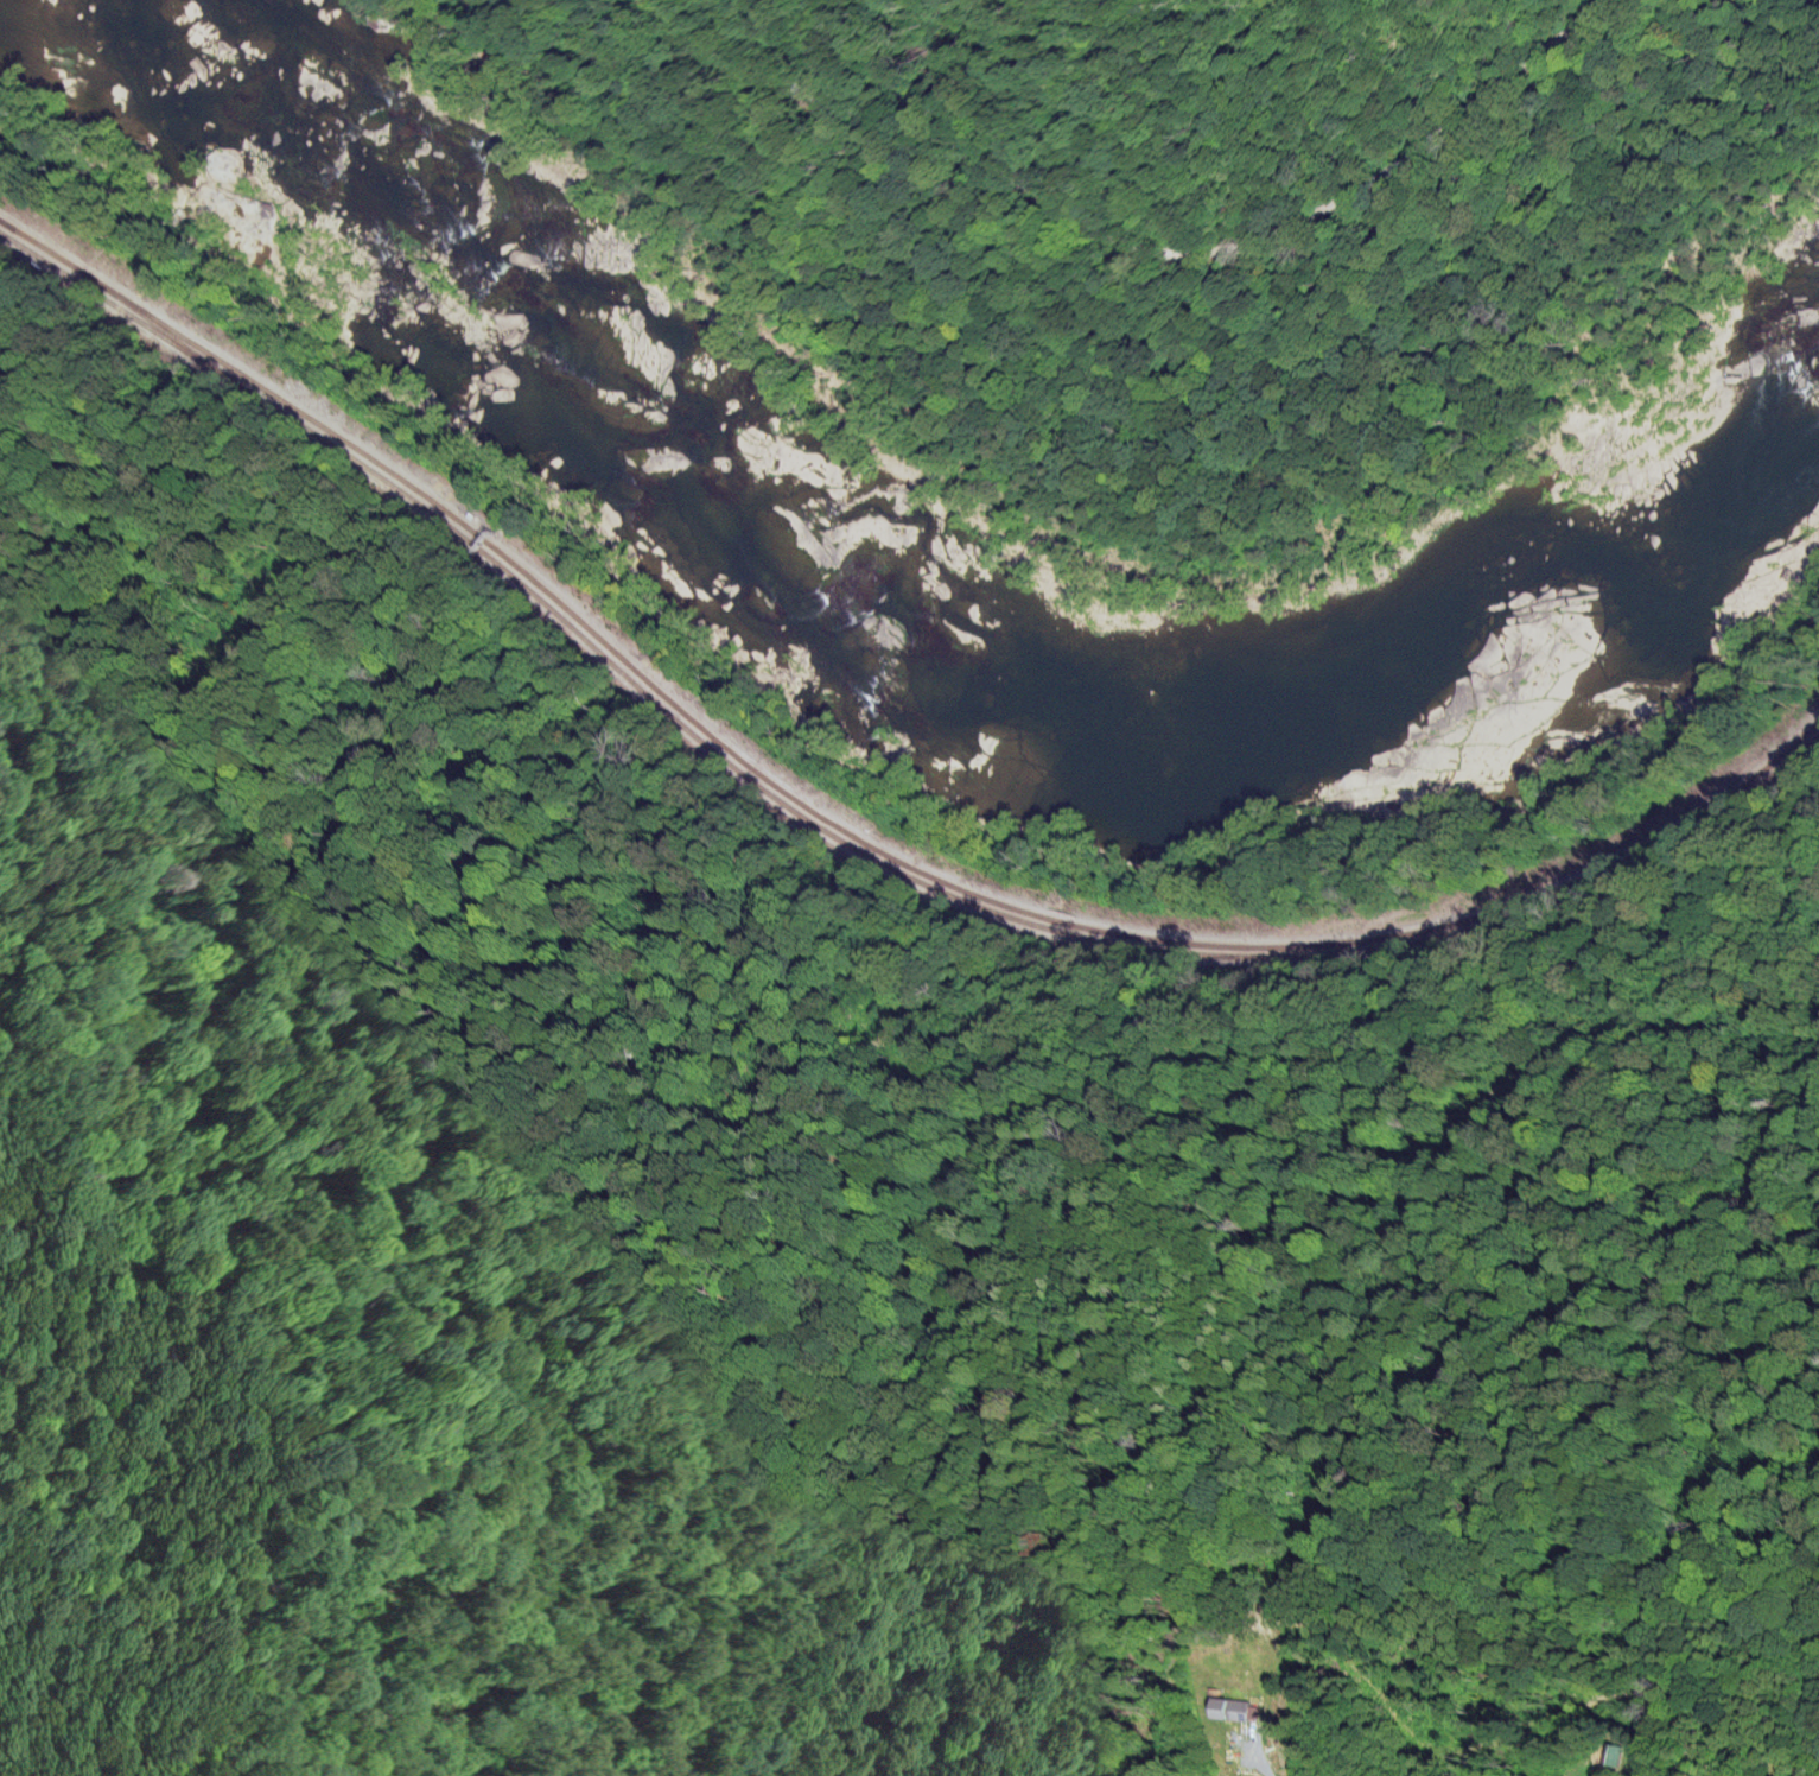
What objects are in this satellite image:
railway: (17, 229)
road: (1114, 234)
railway: (104, 300)
railway: (122, 304)
river: (927, 620)
railway: (863, 844)
railway: (958, 899)
road: (1257, 1761)

